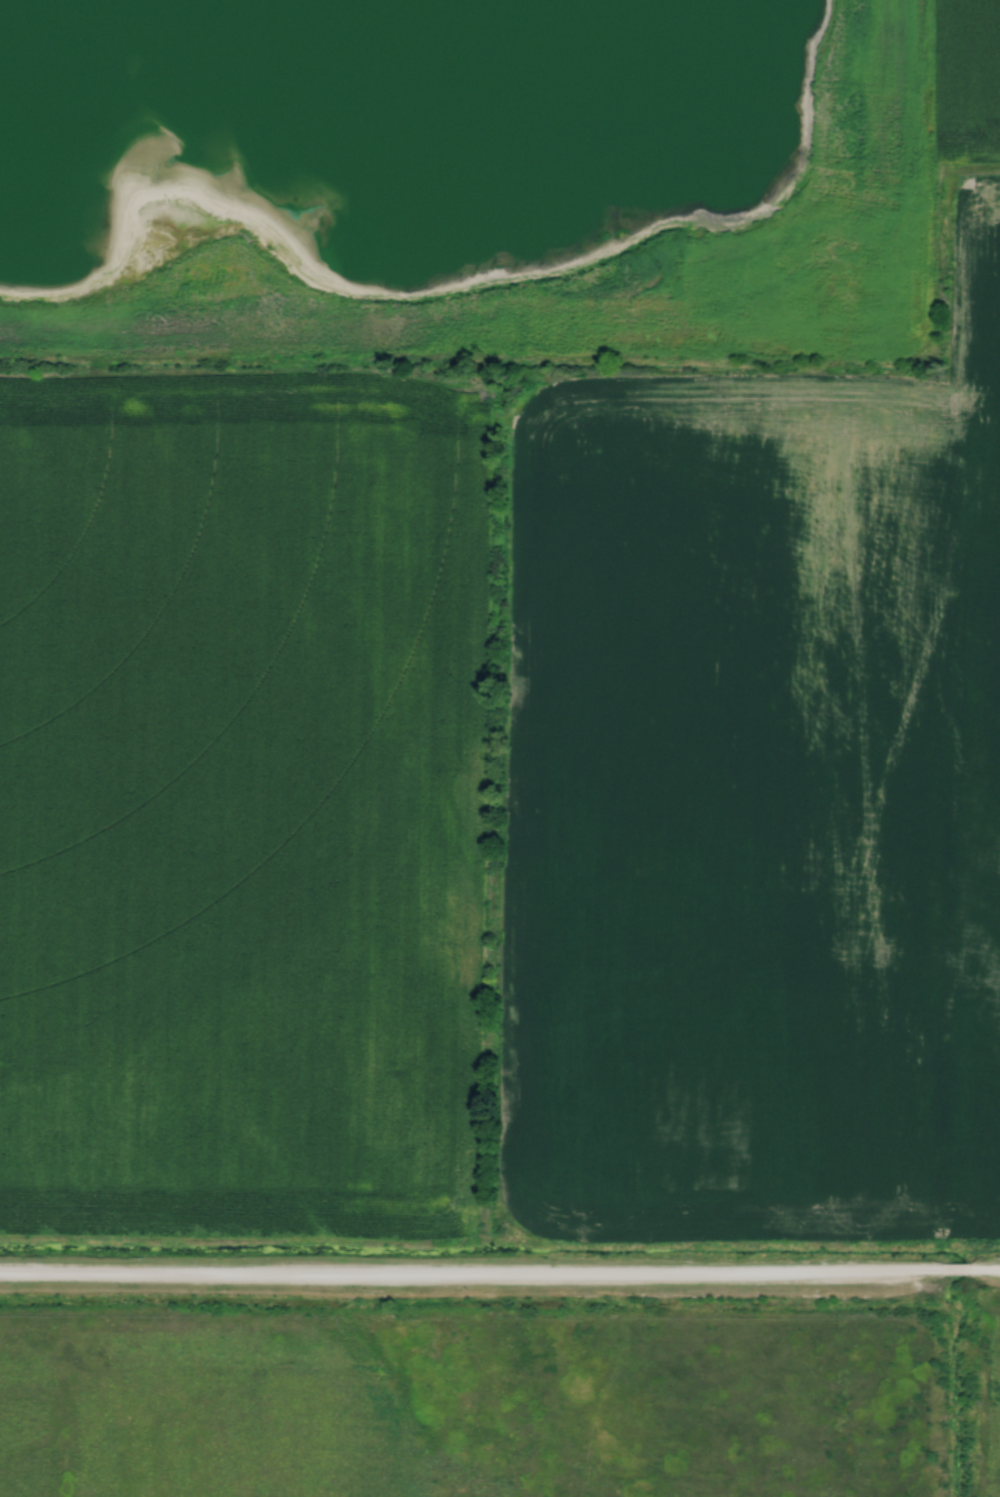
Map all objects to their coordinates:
road: (956, 1268)
road: (985, 1268)
road: (471, 1274)

